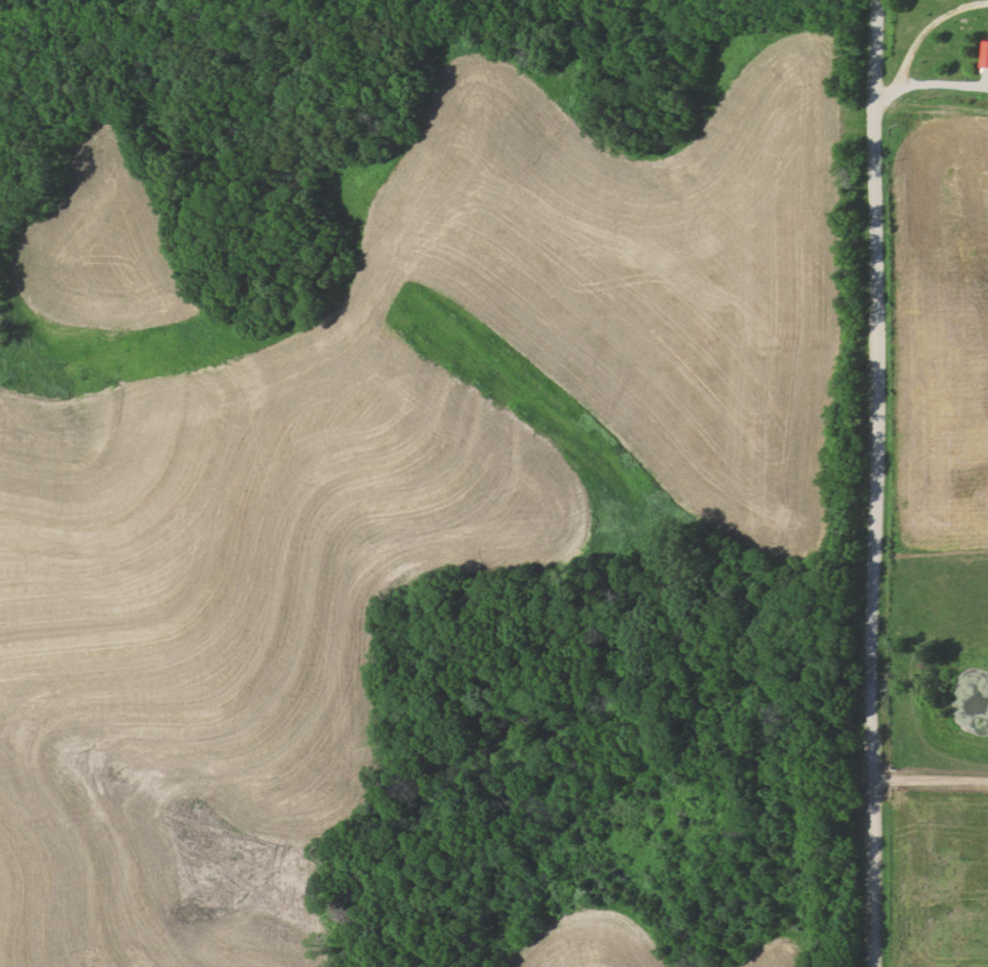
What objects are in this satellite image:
road: (917, 44)
road: (941, 81)
road: (930, 112)
road: (870, 483)
road: (932, 777)

